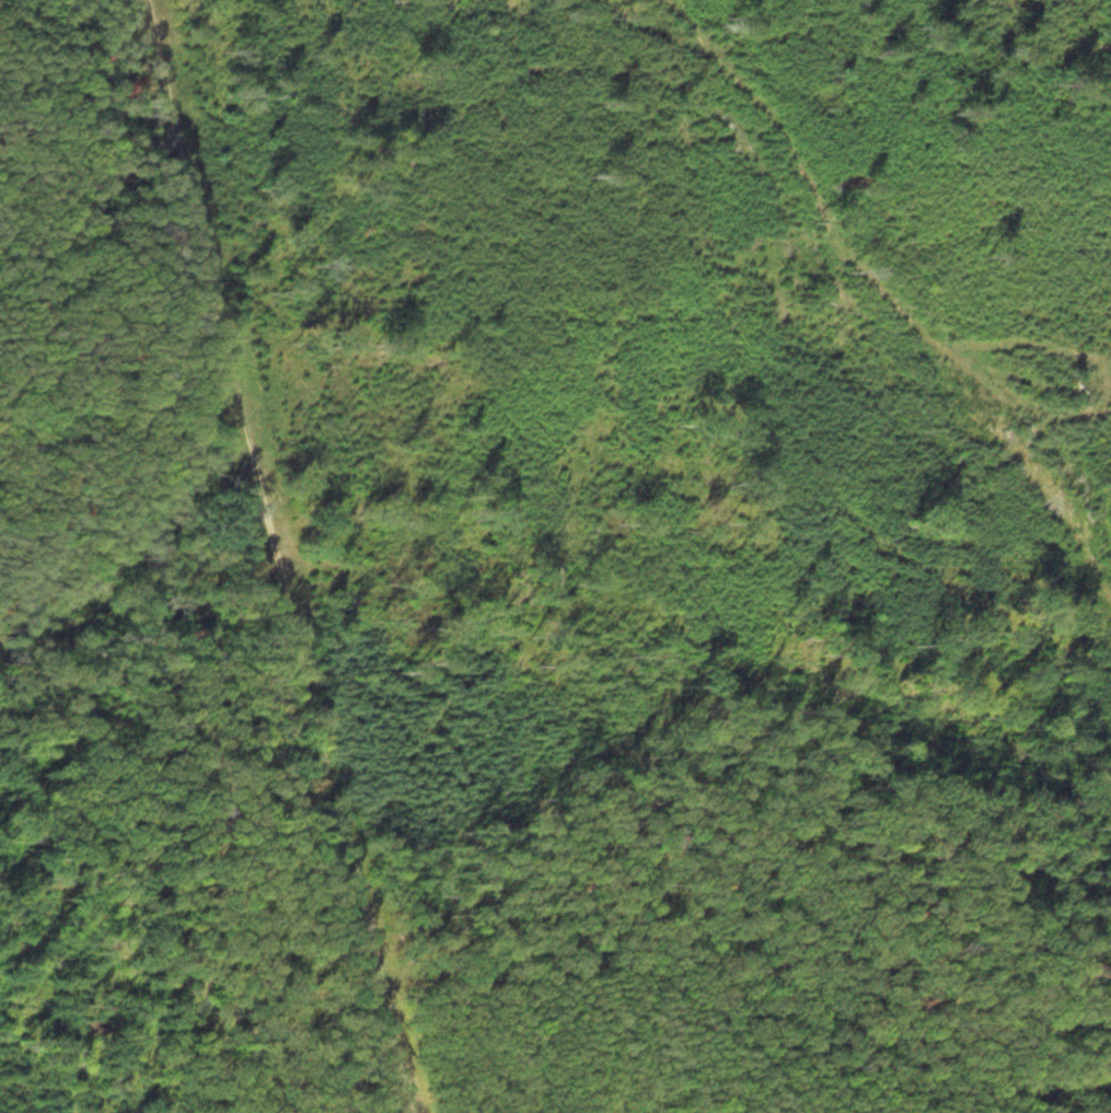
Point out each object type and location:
road: (286, 556)

